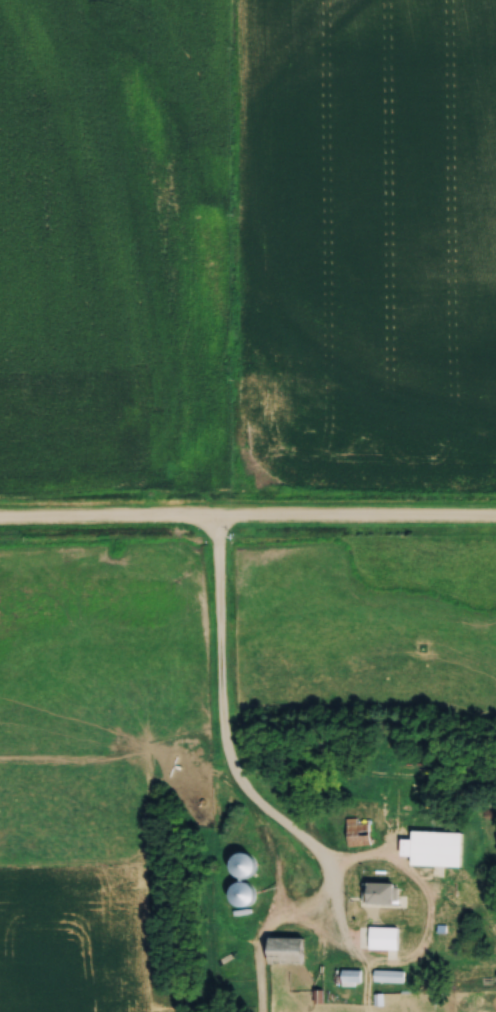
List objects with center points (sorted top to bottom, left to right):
road: (248, 523)
road: (220, 721)
building: (359, 830)
building: (439, 846)
building: (246, 862)
road: (335, 869)
building: (246, 891)
building: (382, 891)
building: (289, 948)
building: (391, 974)
building: (353, 975)

